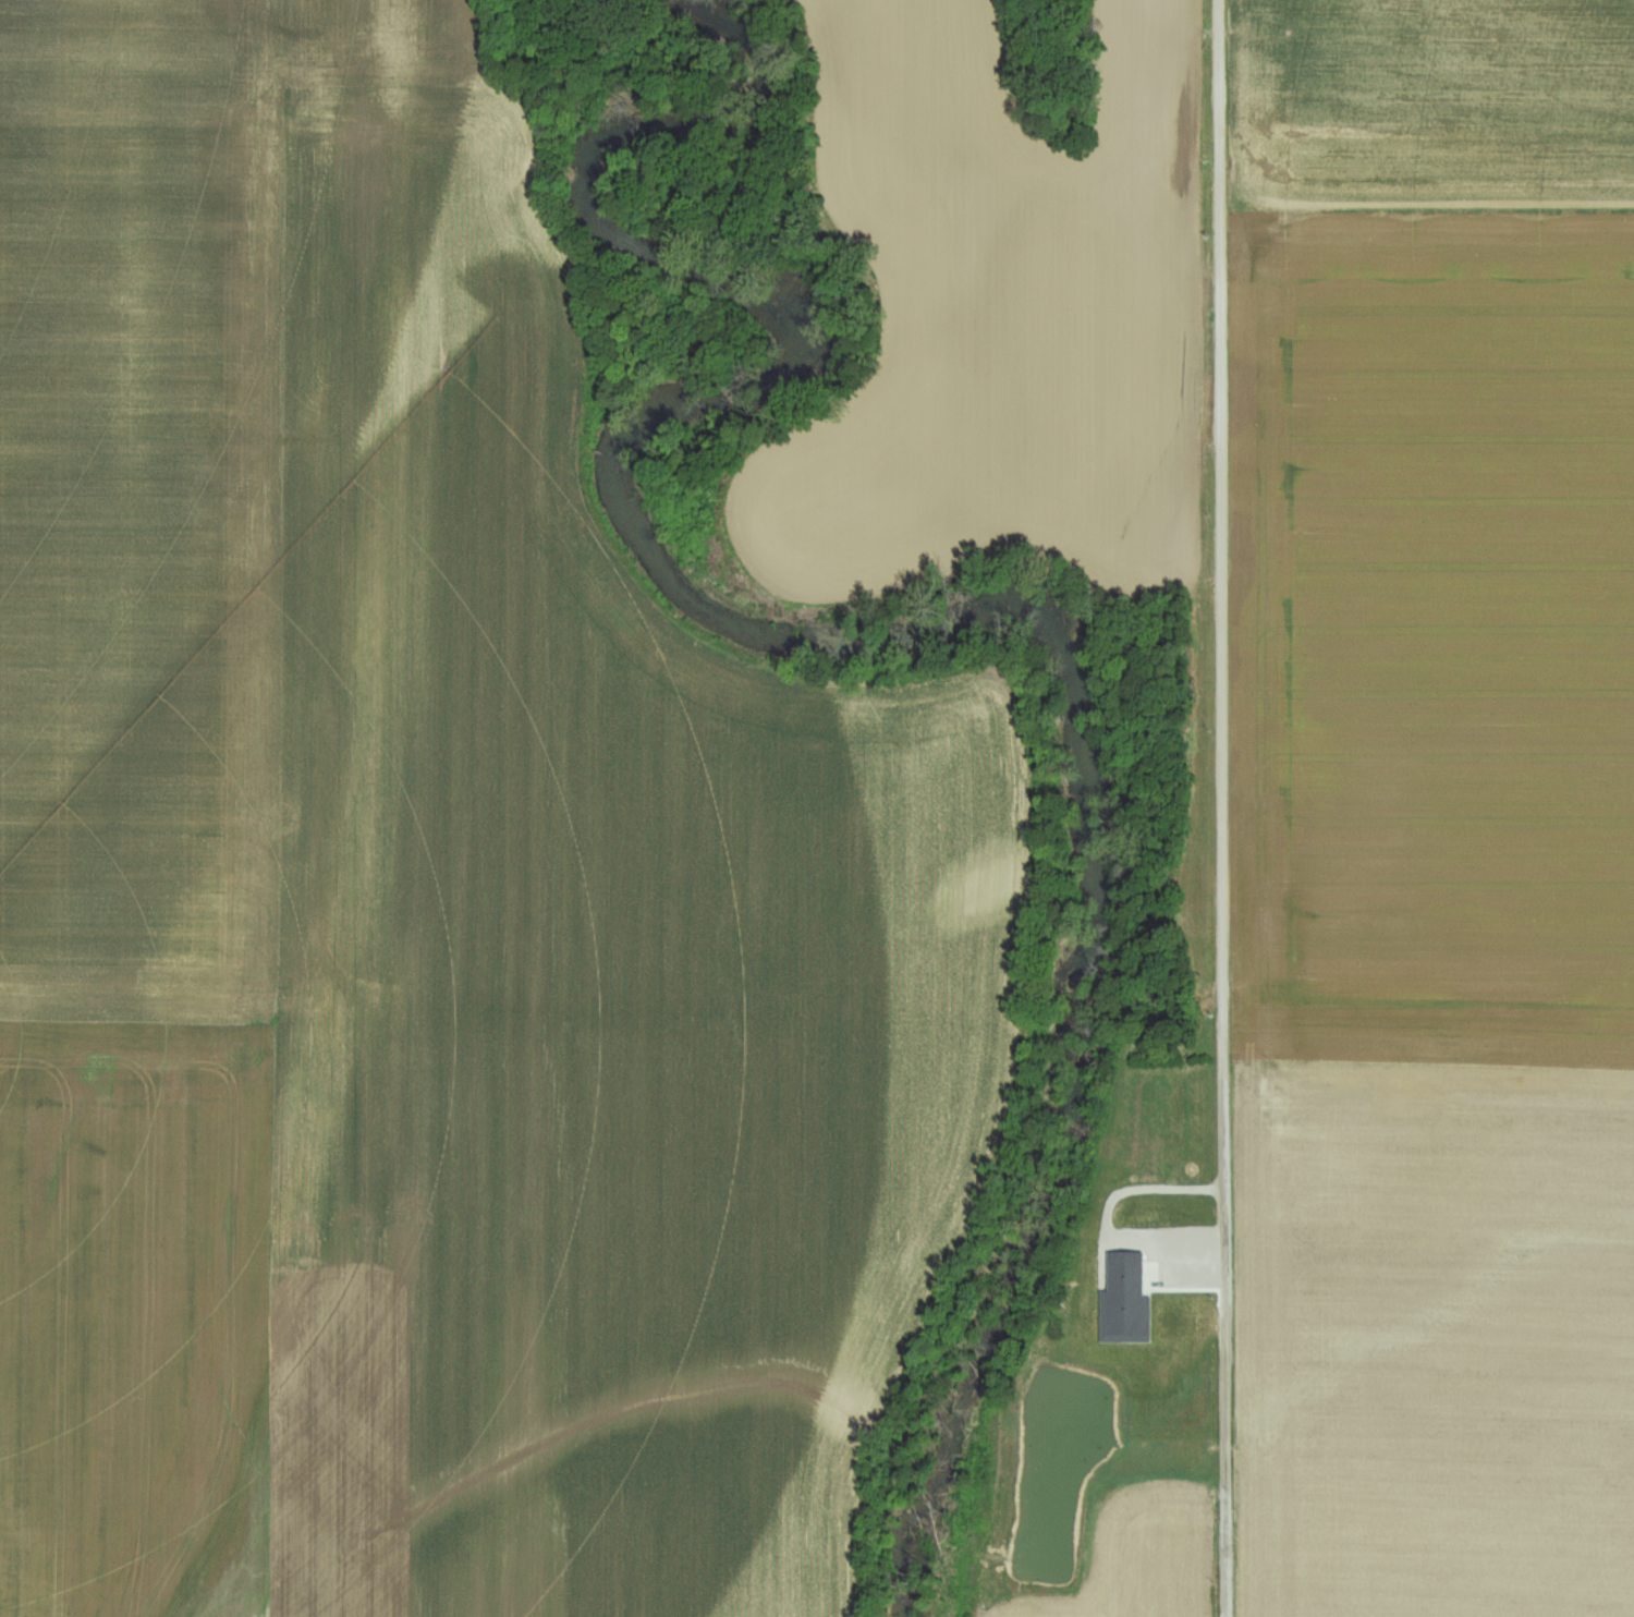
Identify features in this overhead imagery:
road: (1219, 808)
road: (1153, 1190)
building: (1094, 1241)
building: (1150, 1242)
road: (1157, 1303)
building: (1103, 1321)

